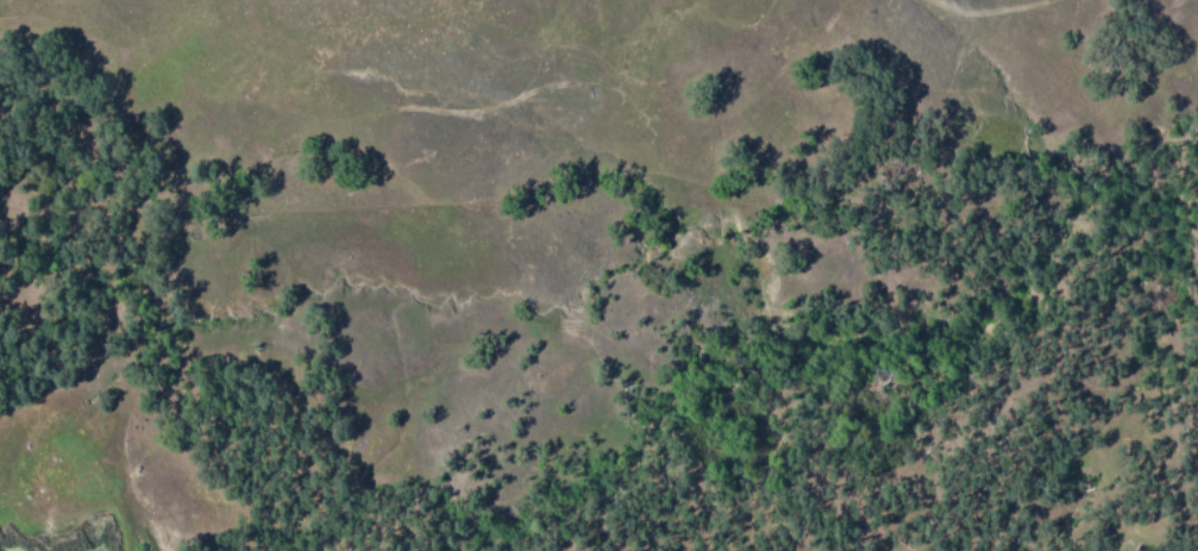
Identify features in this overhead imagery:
road: (86, 506)

